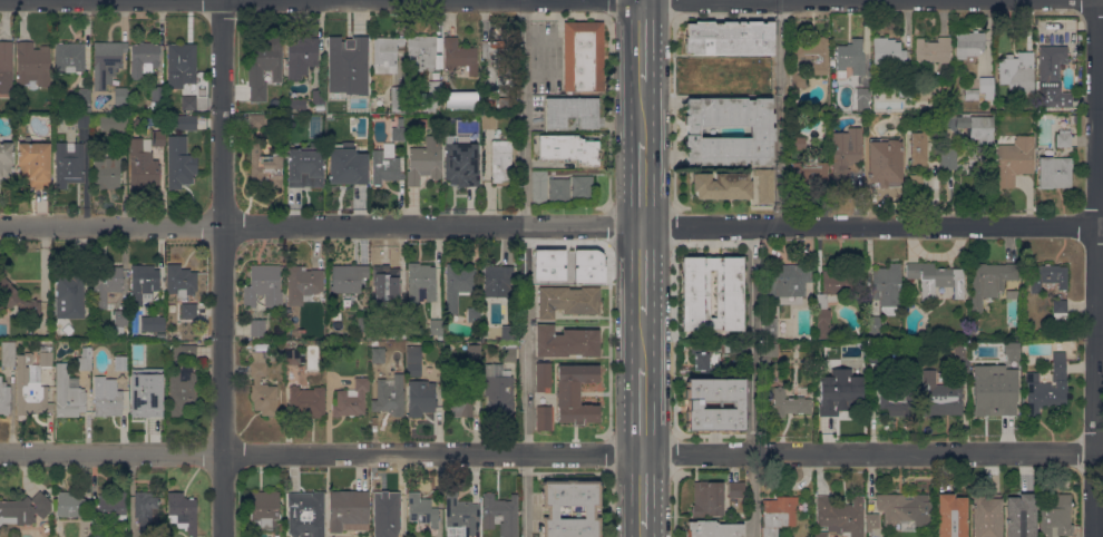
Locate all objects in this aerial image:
road: (661, 0)
building: (1042, 35)
building: (1056, 35)
building: (730, 38)
road: (645, 40)
building: (969, 43)
building: (934, 50)
building: (346, 51)
building: (421, 51)
building: (888, 51)
building: (387, 53)
building: (813, 53)
building: (460, 55)
building: (301, 56)
building: (584, 56)
building: (70, 57)
building: (145, 57)
building: (850, 57)
building: (107, 62)
building: (32, 64)
building: (182, 64)
building: (497, 64)
building: (262, 66)
building: (6, 67)
building: (721, 71)
building: (1017, 72)
building: (1052, 77)
building: (797, 78)
building: (765, 80)
building: (987, 87)
building: (21, 90)
building: (906, 91)
building: (158, 92)
building: (863, 94)
building: (972, 94)
building: (84, 96)
building: (319, 96)
building: (431, 96)
building: (121, 98)
building: (398, 98)
building: (355, 100)
building: (461, 100)
building: (188, 102)
building: (297, 104)
building: (411, 105)
building: (489, 105)
building: (505, 105)
road: (646, 110)
building: (572, 111)
road: (781, 113)
building: (255, 119)
building: (84, 120)
building: (488, 120)
building: (109, 123)
building: (186, 123)
building: (292, 126)
building: (977, 128)
building: (398, 130)
building: (762, 131)
building: (1063, 138)
building: (123, 141)
building: (799, 143)
building: (568, 147)
building: (918, 147)
building: (845, 154)
building: (948, 158)
building: (6, 159)
building: (884, 159)
building: (145, 160)
building: (424, 160)
building: (1014, 160)
building: (266, 162)
building: (501, 162)
building: (69, 163)
building: (179, 163)
building: (35, 164)
building: (346, 164)
building: (462, 164)
building: (304, 167)
building: (384, 167)
building: (108, 170)
building: (812, 172)
building: (1054, 172)
road: (646, 182)
building: (916, 183)
building: (722, 185)
building: (765, 185)
building: (539, 186)
building: (583, 188)
building: (559, 191)
road: (551, 224)
building: (546, 264)
building: (586, 265)
building: (563, 266)
road: (222, 267)
road: (525, 267)
road: (646, 268)
road: (1097, 268)
building: (385, 274)
building: (1047, 276)
building: (348, 277)
building: (459, 277)
building: (936, 279)
building: (497, 280)
building: (108, 281)
building: (180, 281)
building: (421, 281)
building: (787, 281)
building: (989, 281)
building: (144, 282)
building: (303, 283)
building: (263, 285)
building: (887, 287)
building: (72, 290)
building: (695, 293)
building: (14, 295)
building: (350, 297)
building: (567, 300)
building: (831, 300)
building: (189, 310)
building: (1060, 310)
building: (121, 316)
building: (363, 321)
building: (153, 323)
building: (875, 325)
building: (436, 326)
building: (770, 326)
building: (257, 328)
building: (485, 332)
building: (508, 332)
building: (87, 333)
road: (645, 340)
building: (566, 342)
building: (119, 346)
building: (770, 349)
building: (1011, 350)
building: (474, 351)
building: (508, 351)
building: (184, 352)
building: (8, 353)
building: (377, 354)
building: (294, 357)
building: (875, 357)
building: (85, 359)
building: (706, 359)
building: (764, 361)
building: (860, 361)
building: (121, 362)
building: (158, 363)
building: (963, 364)
building: (544, 377)
building: (769, 378)
road: (753, 380)
building: (32, 384)
building: (418, 384)
building: (262, 385)
building: (1047, 385)
building: (183, 390)
building: (498, 390)
building: (802, 390)
building: (68, 392)
building: (576, 393)
building: (461, 394)
building: (992, 396)
building: (390, 397)
building: (836, 397)
building: (4, 398)
building: (352, 398)
building: (107, 399)
building: (940, 400)
building: (144, 401)
building: (308, 401)
building: (897, 401)
building: (789, 402)
building: (715, 403)
road: (644, 410)
building: (543, 417)
road: (321, 453)
road: (872, 453)
building: (736, 489)
road: (644, 490)
building: (707, 499)
building: (70, 504)
building: (145, 508)
building: (265, 508)
building: (384, 508)
building: (570, 508)
building: (904, 508)
building: (25, 509)
building: (113, 509)
building: (349, 510)
building: (421, 510)
building: (182, 511)
building: (502, 512)
building: (306, 514)
building: (778, 514)
building: (838, 516)
building: (951, 516)
building: (986, 516)
building: (1021, 516)
building: (461, 517)
building: (1056, 517)
building: (872, 523)
building: (713, 529)
road: (644, 533)
building: (399, 535)
building: (98, 536)

